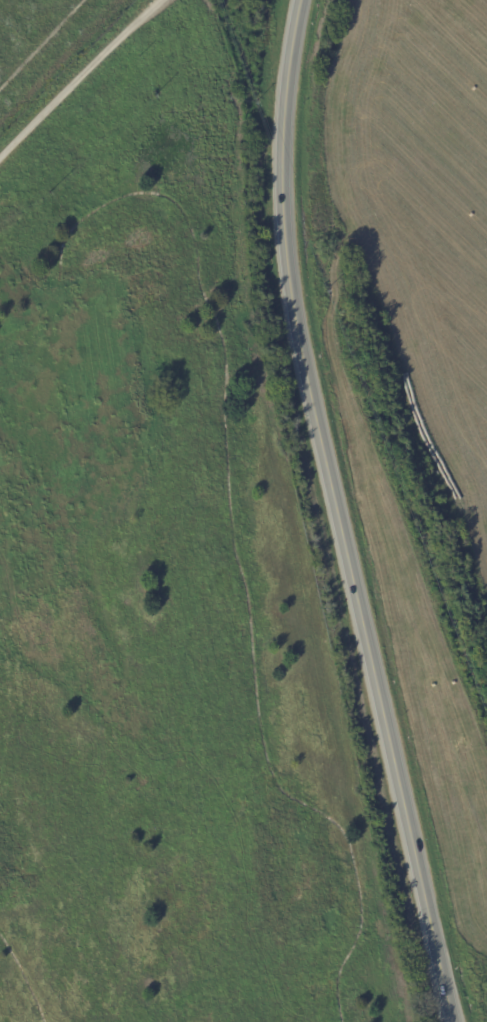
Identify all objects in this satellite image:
road: (78, 79)
road: (336, 514)
airport: (163, 562)

